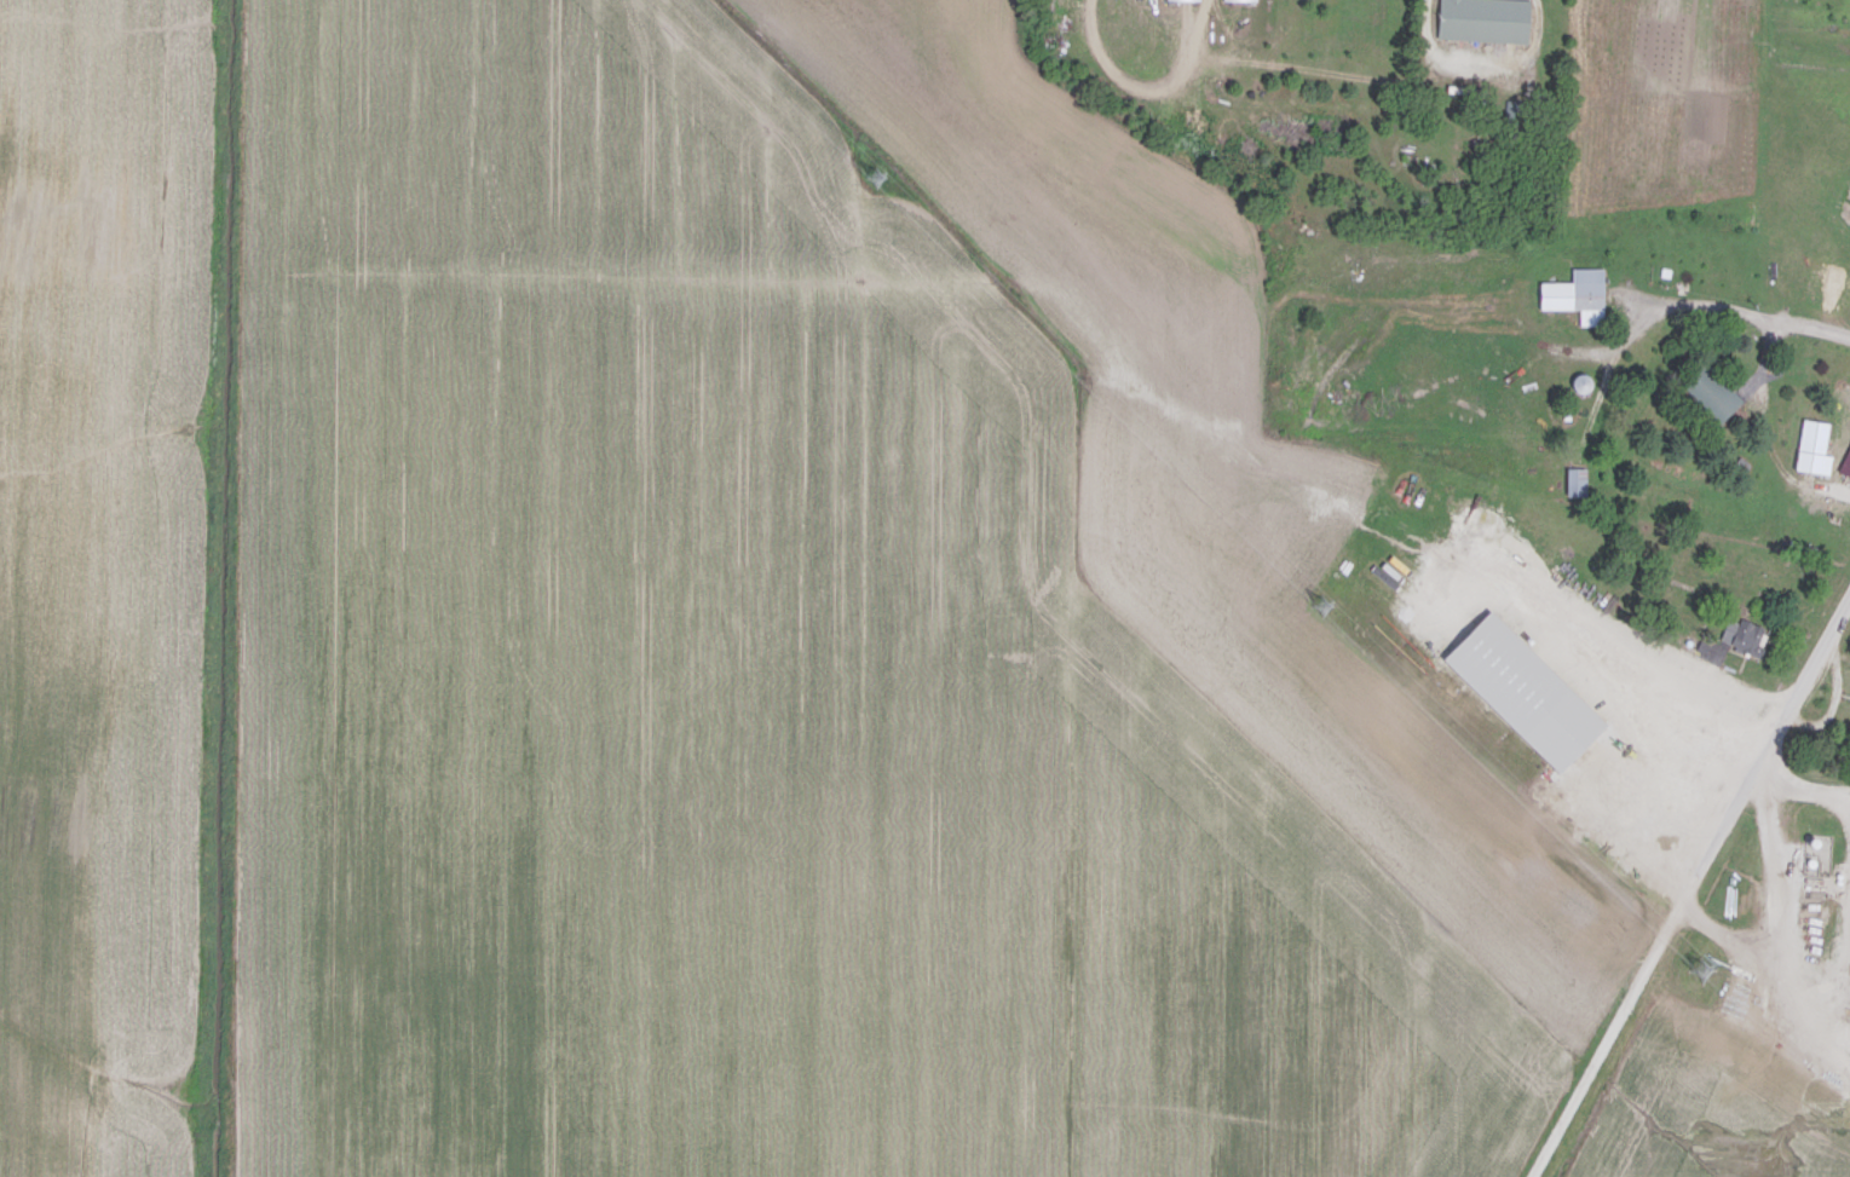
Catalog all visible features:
building: (1175, 0)
building: (1231, 0)
building: (1477, 19)
building: (1571, 295)
building: (1705, 392)
building: (1806, 449)
building: (1571, 481)
building: (1744, 636)
building: (1667, 743)
road: (1662, 837)
building: (1810, 885)

